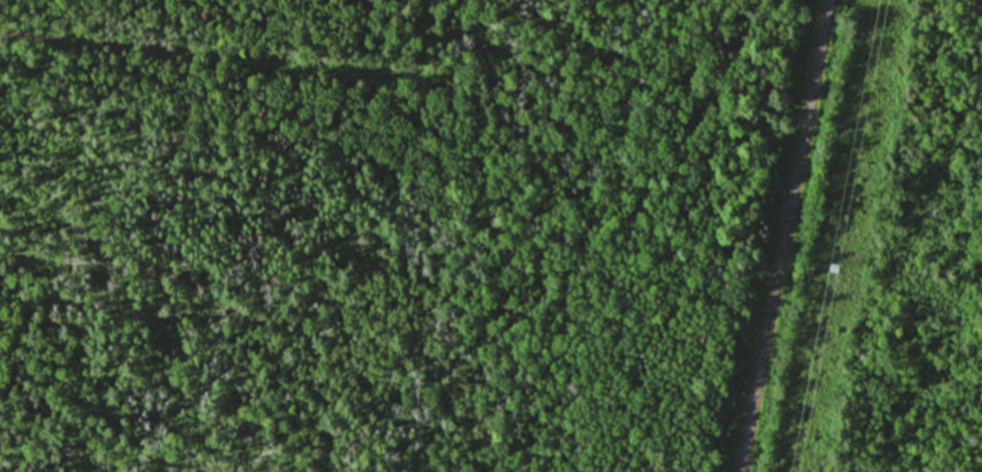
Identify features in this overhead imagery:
railway: (783, 235)
power tower: (833, 266)

